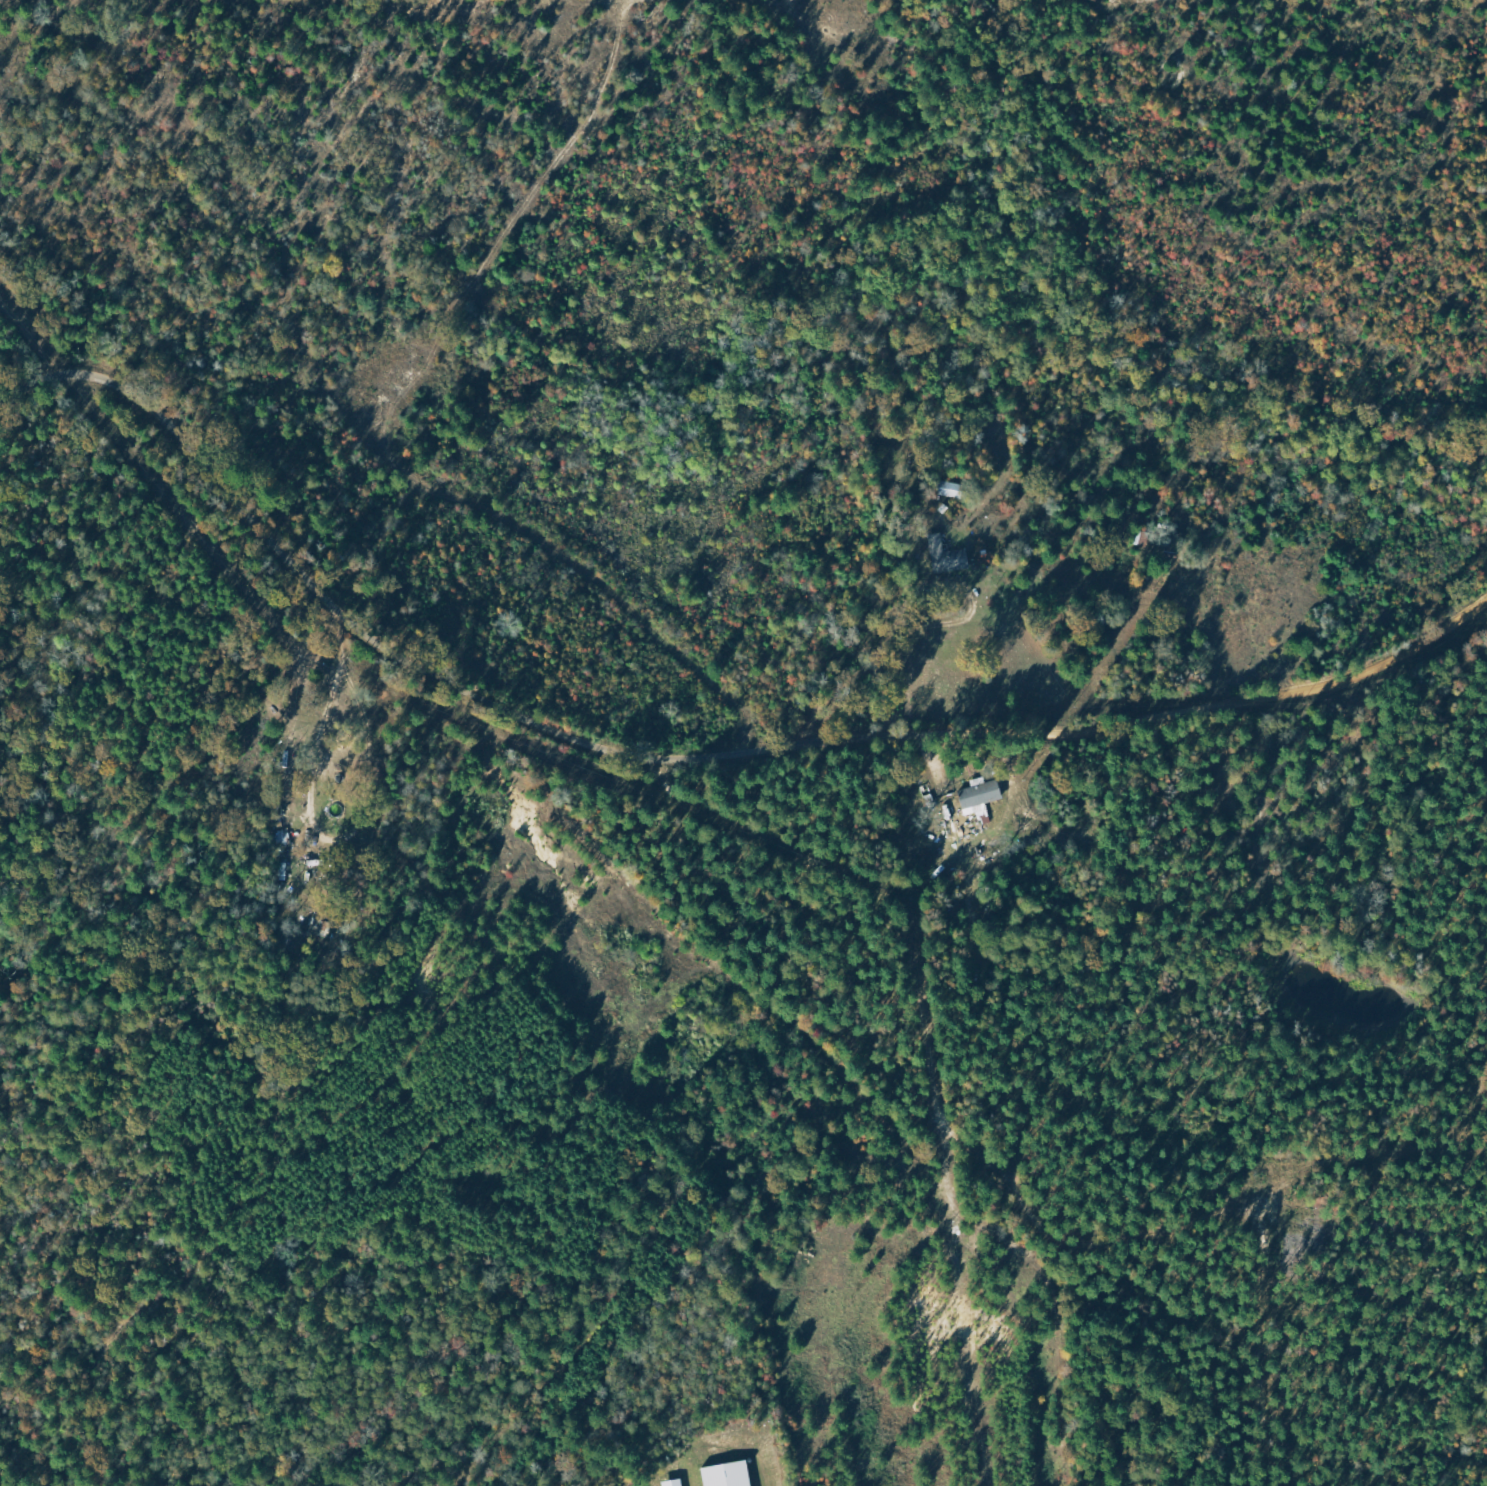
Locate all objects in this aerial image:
road: (254, 204)
road: (1250, 438)
road: (1220, 466)
building: (951, 490)
building: (948, 557)
road: (702, 732)
building: (983, 796)
building: (730, 1475)
building: (675, 1483)

